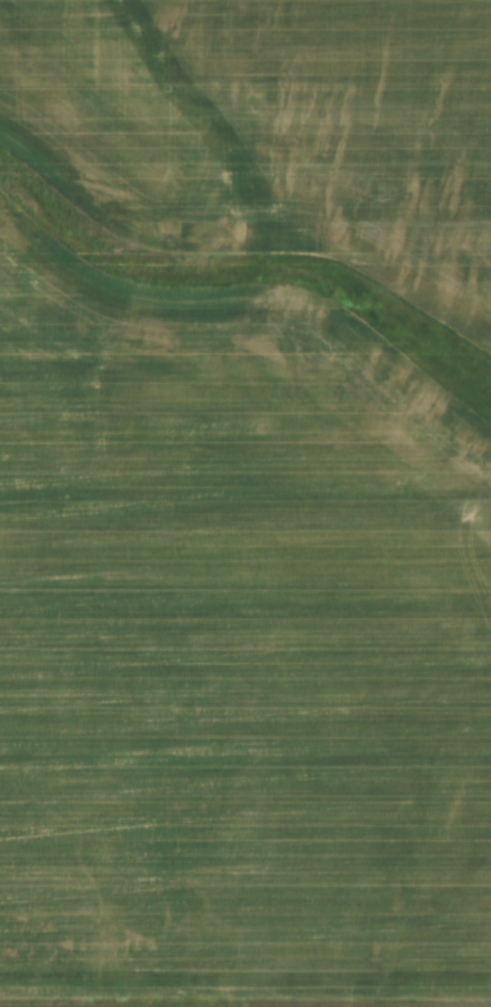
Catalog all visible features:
road: (245, 1004)

